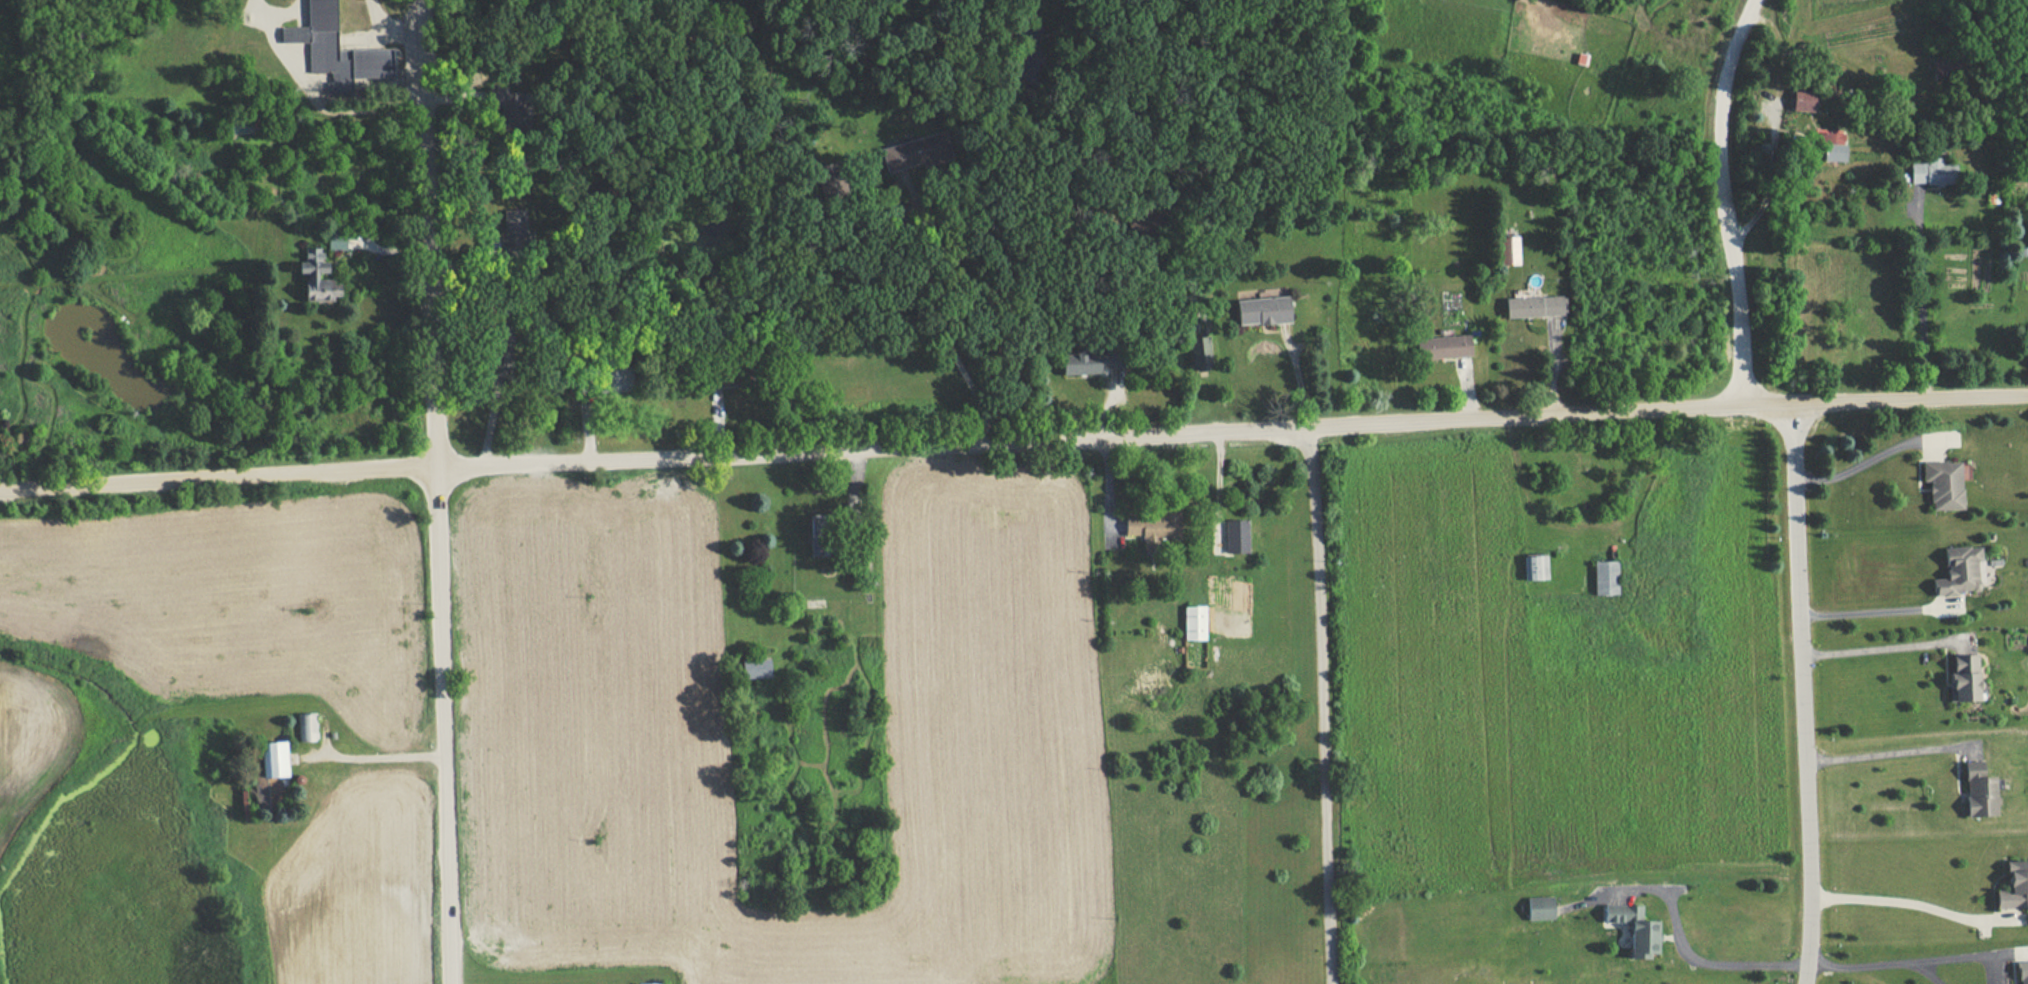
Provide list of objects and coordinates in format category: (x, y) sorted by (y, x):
building: (320, 40)
building: (1951, 68)
building: (1801, 102)
building: (241, 127)
building: (1830, 148)
building: (1932, 174)
road: (1769, 180)
road: (1723, 198)
building: (337, 241)
building: (1510, 250)
building: (317, 268)
road: (1917, 296)
building: (1534, 306)
road: (942, 310)
building: (1264, 310)
building: (1451, 346)
building: (1201, 353)
building: (1090, 360)
building: (738, 374)
building: (621, 381)
road: (1013, 436)
road: (1933, 451)
road: (1874, 459)
building: (1943, 487)
road: (436, 491)
building: (1154, 530)
building: (821, 532)
building: (1236, 536)
building: (1534, 567)
building: (1963, 571)
building: (1606, 577)
road: (1875, 602)
building: (1195, 623)
road: (1879, 643)
building: (756, 668)
building: (1968, 677)
road: (1800, 694)
crop: (593, 701)
road: (1319, 703)
building: (307, 729)
road: (1886, 747)
building: (277, 759)
building: (1983, 791)
building: (2013, 886)
road: (1911, 898)
building: (1541, 908)
building: (1638, 928)
road: (1963, 959)
road: (1728, 967)
road: (1861, 967)
building: (2022, 972)
road: (1925, 975)

